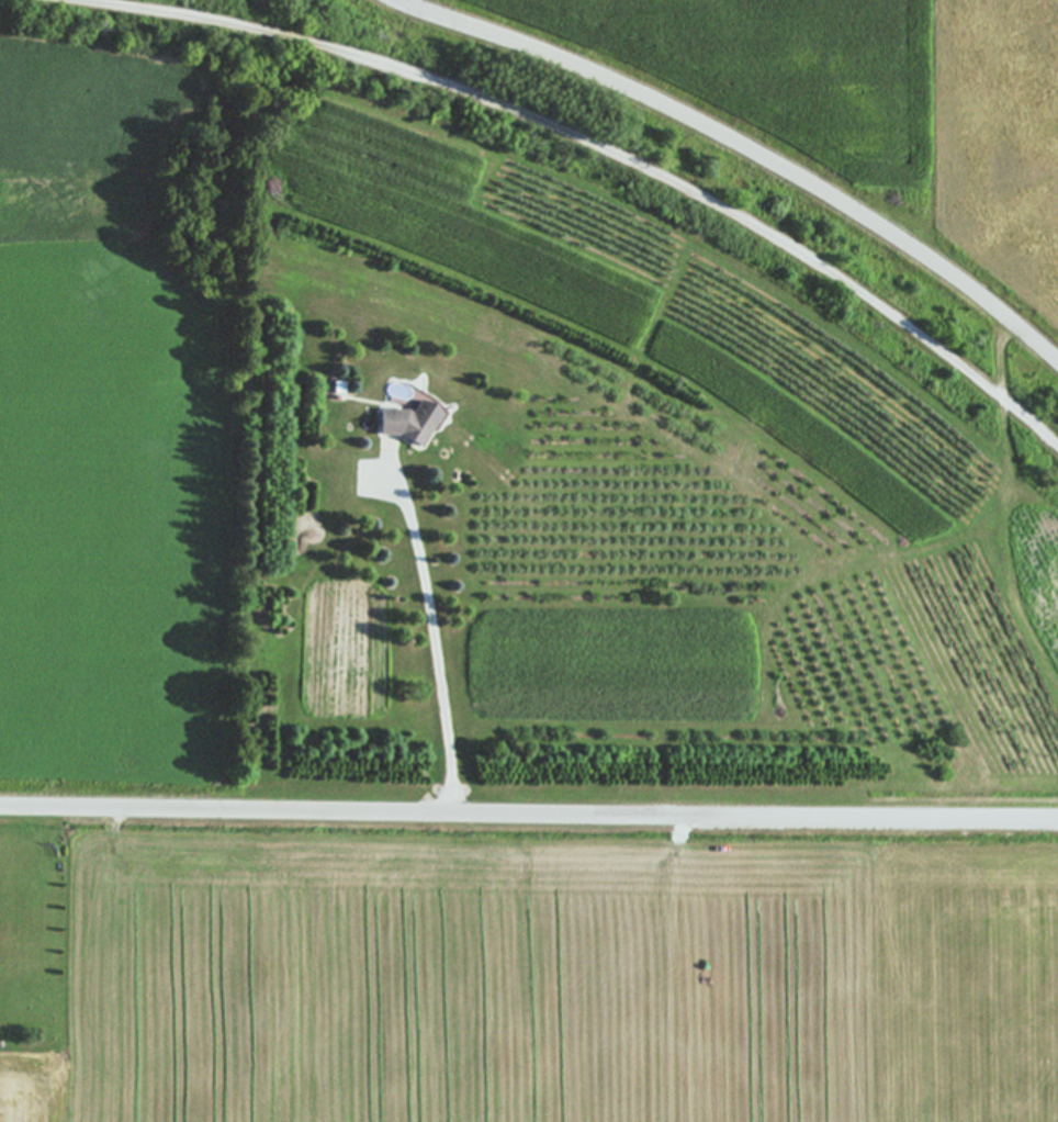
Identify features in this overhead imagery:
road: (597, 147)
road: (750, 147)
building: (404, 424)
road: (438, 636)
road: (529, 809)

